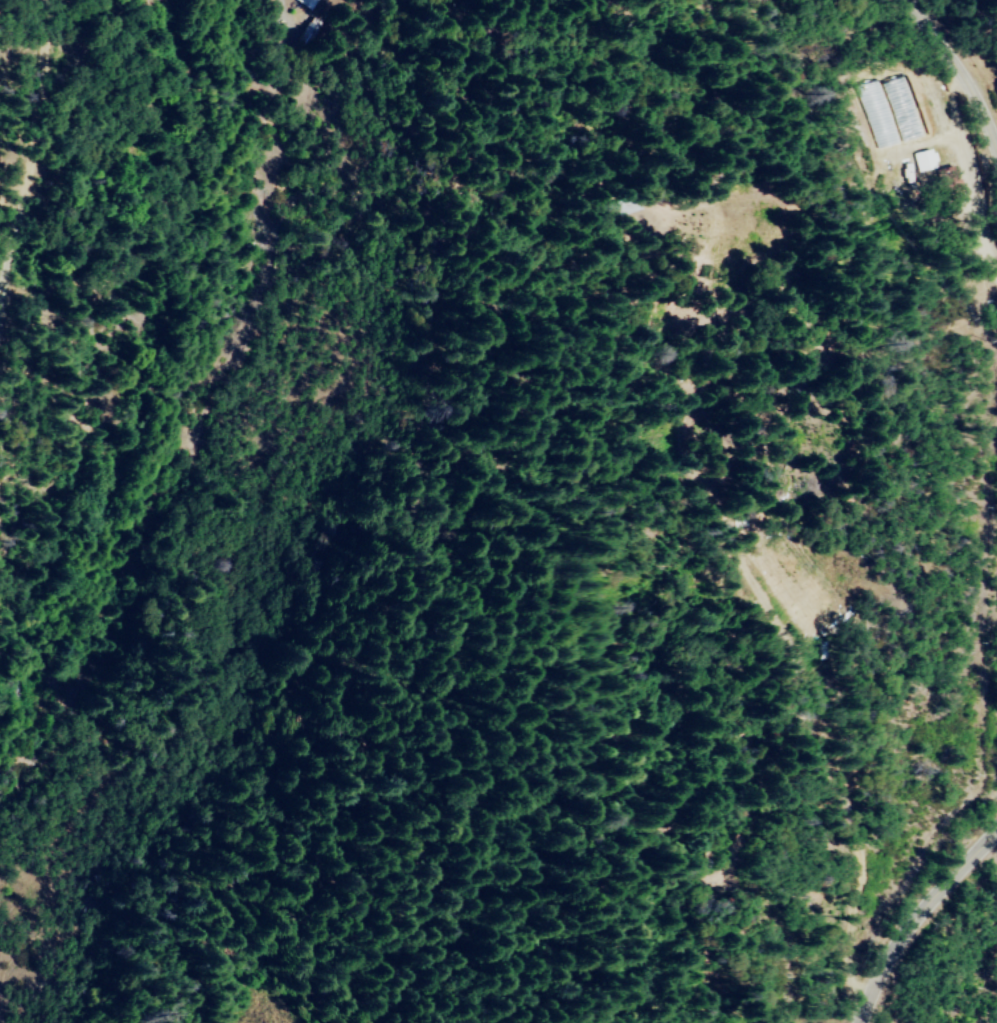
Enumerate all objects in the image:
building: (308, 3)
road: (13, 148)
building: (922, 159)
building: (946, 179)
road: (992, 507)
road: (993, 617)

